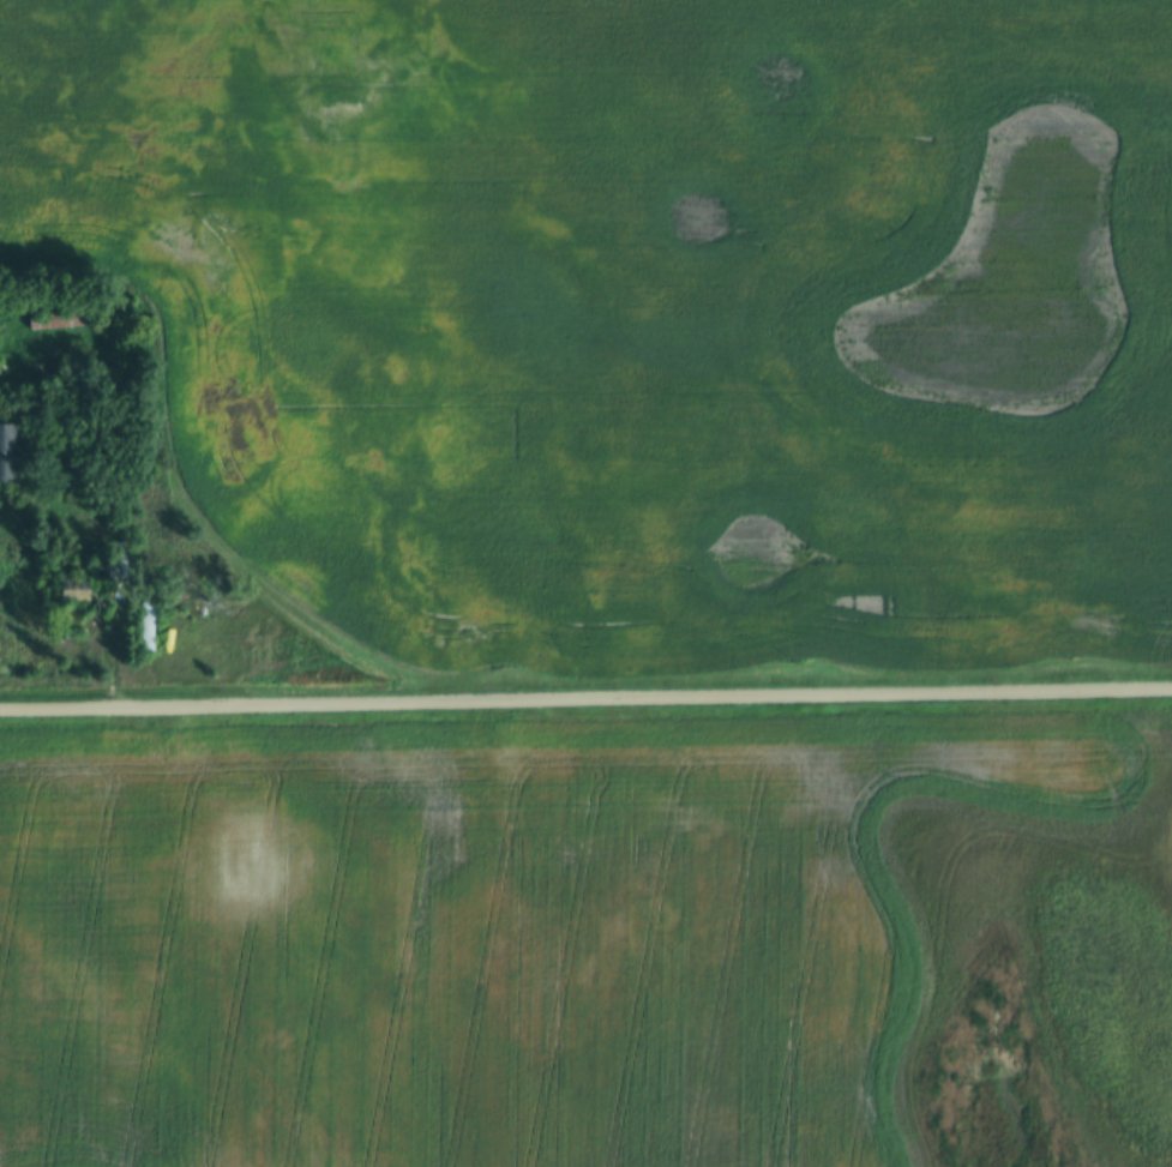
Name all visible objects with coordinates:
building: (58, 321)
building: (6, 452)
building: (74, 588)
building: (146, 626)
road: (118, 636)
road: (585, 702)

